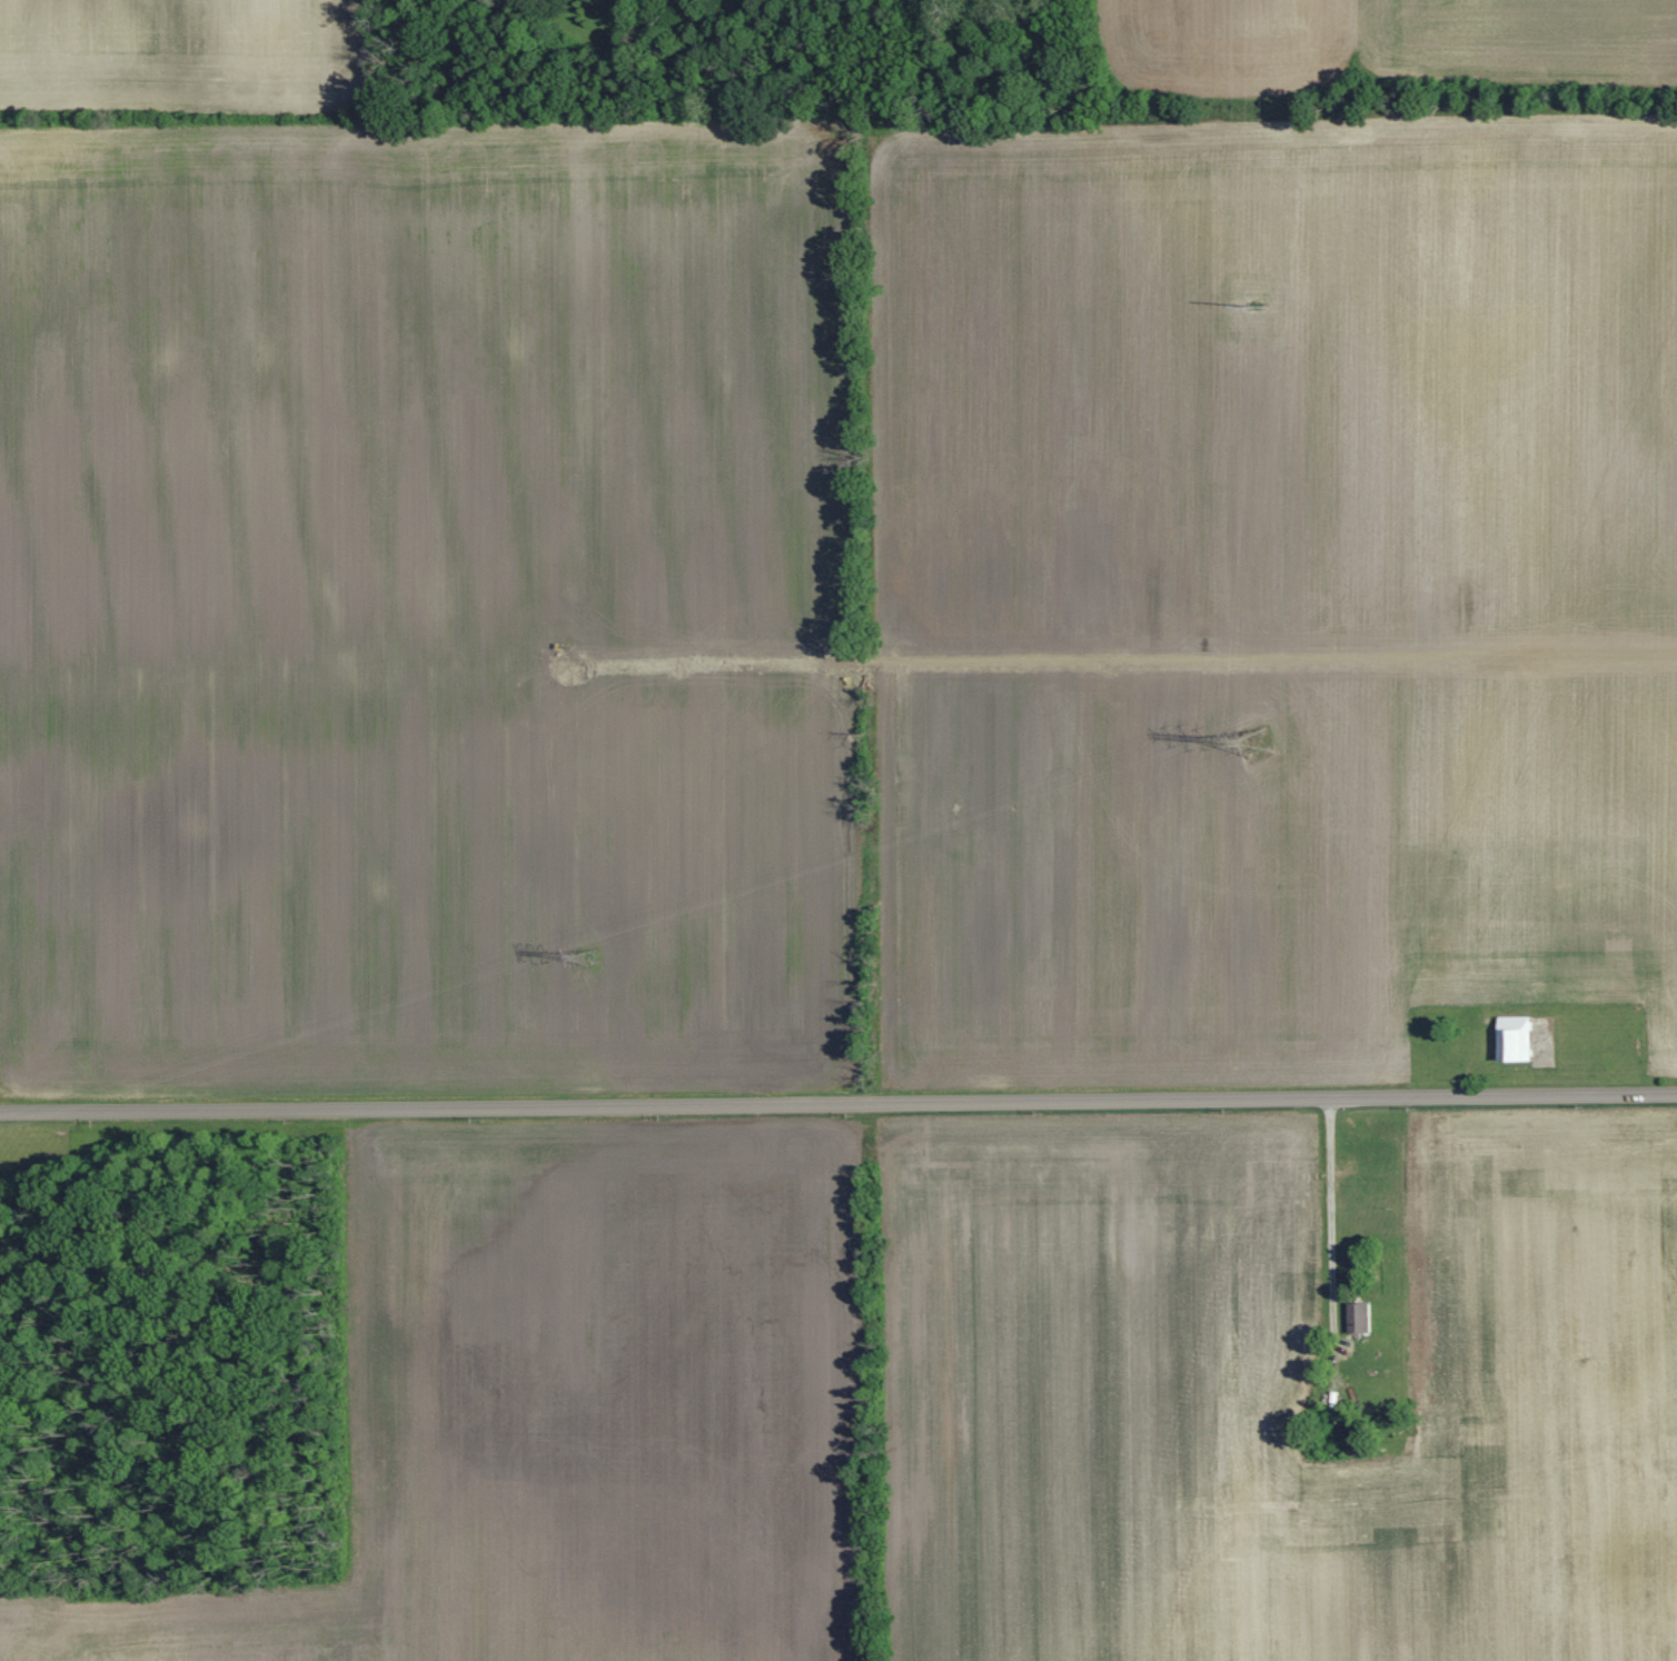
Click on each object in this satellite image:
power tower: (1254, 300)
power tower: (1256, 743)
power tower: (588, 959)
building: (1512, 1040)
road: (837, 1101)
road: (1328, 1211)

